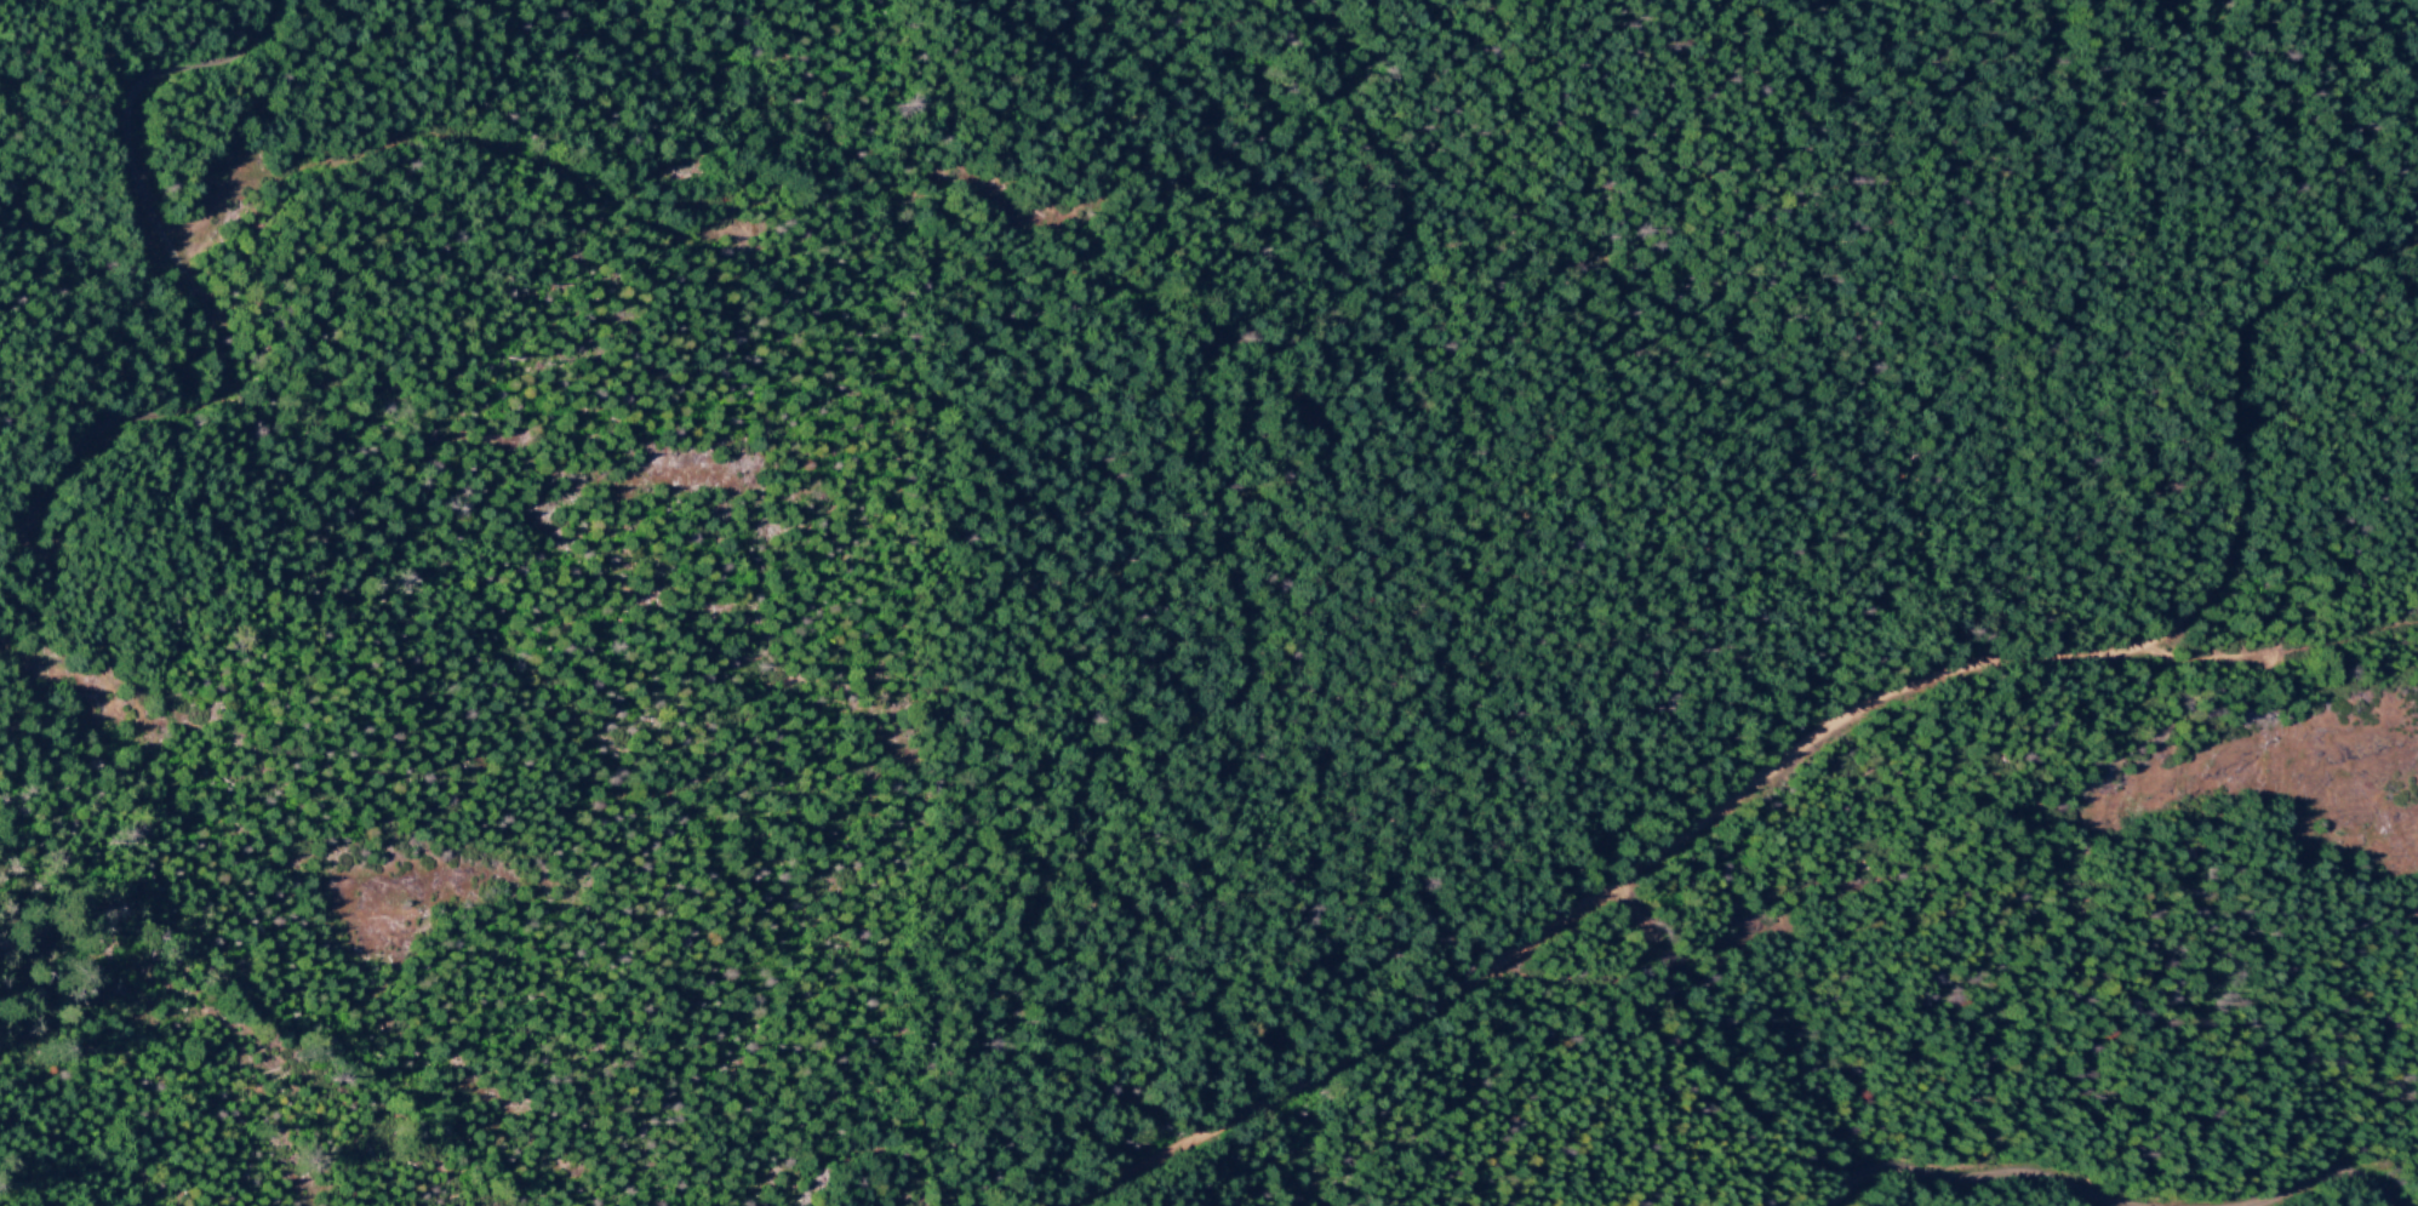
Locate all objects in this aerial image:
road: (198, 347)
road: (1760, 756)
road: (2111, 1191)

